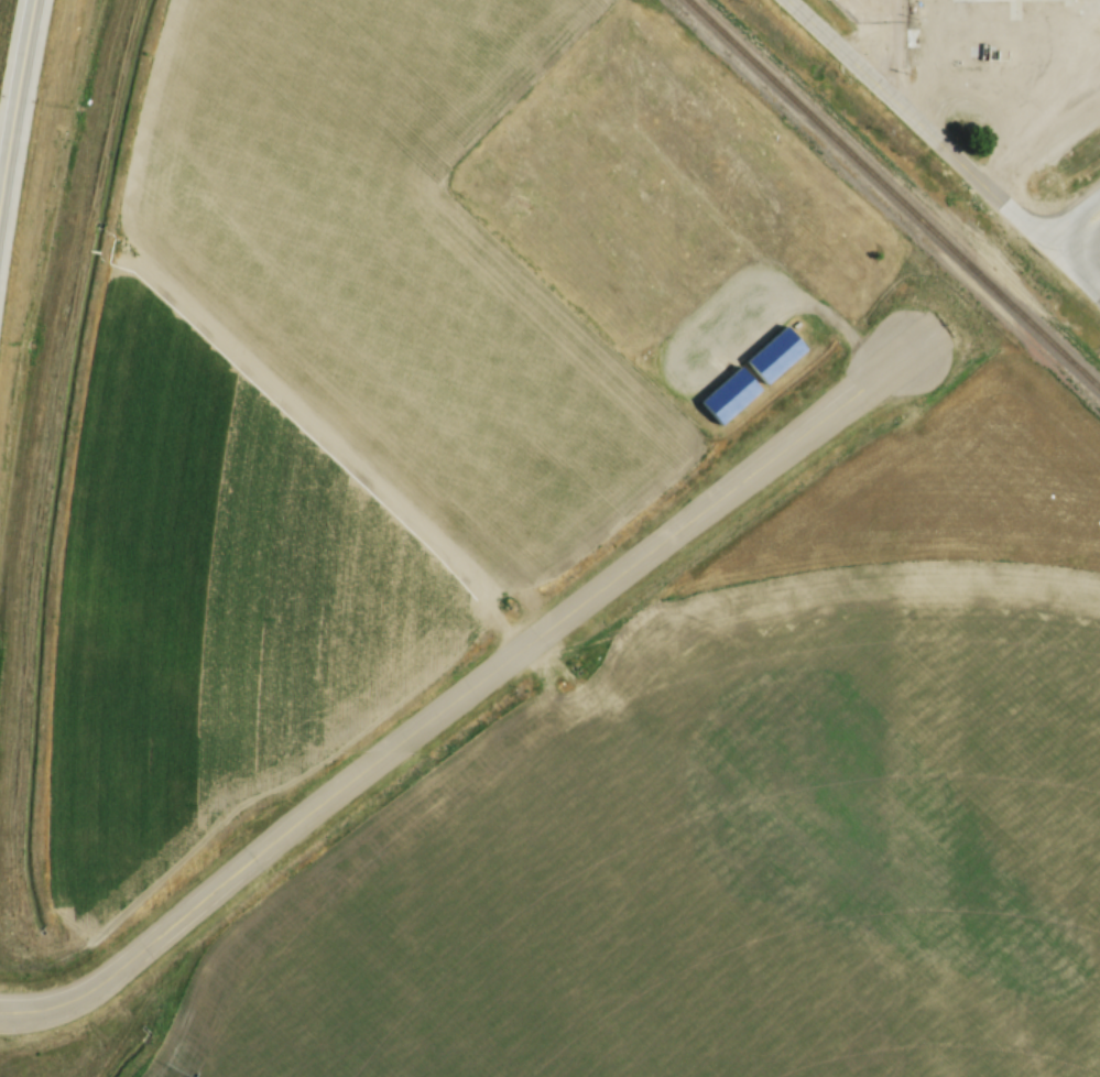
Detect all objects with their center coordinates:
road: (15, 98)
road: (1047, 105)
road: (913, 119)
street lamp: (1059, 167)
railway: (894, 193)
road: (1070, 215)
road: (1083, 248)
road: (1069, 266)
building: (780, 360)
building: (733, 401)
road: (455, 698)

